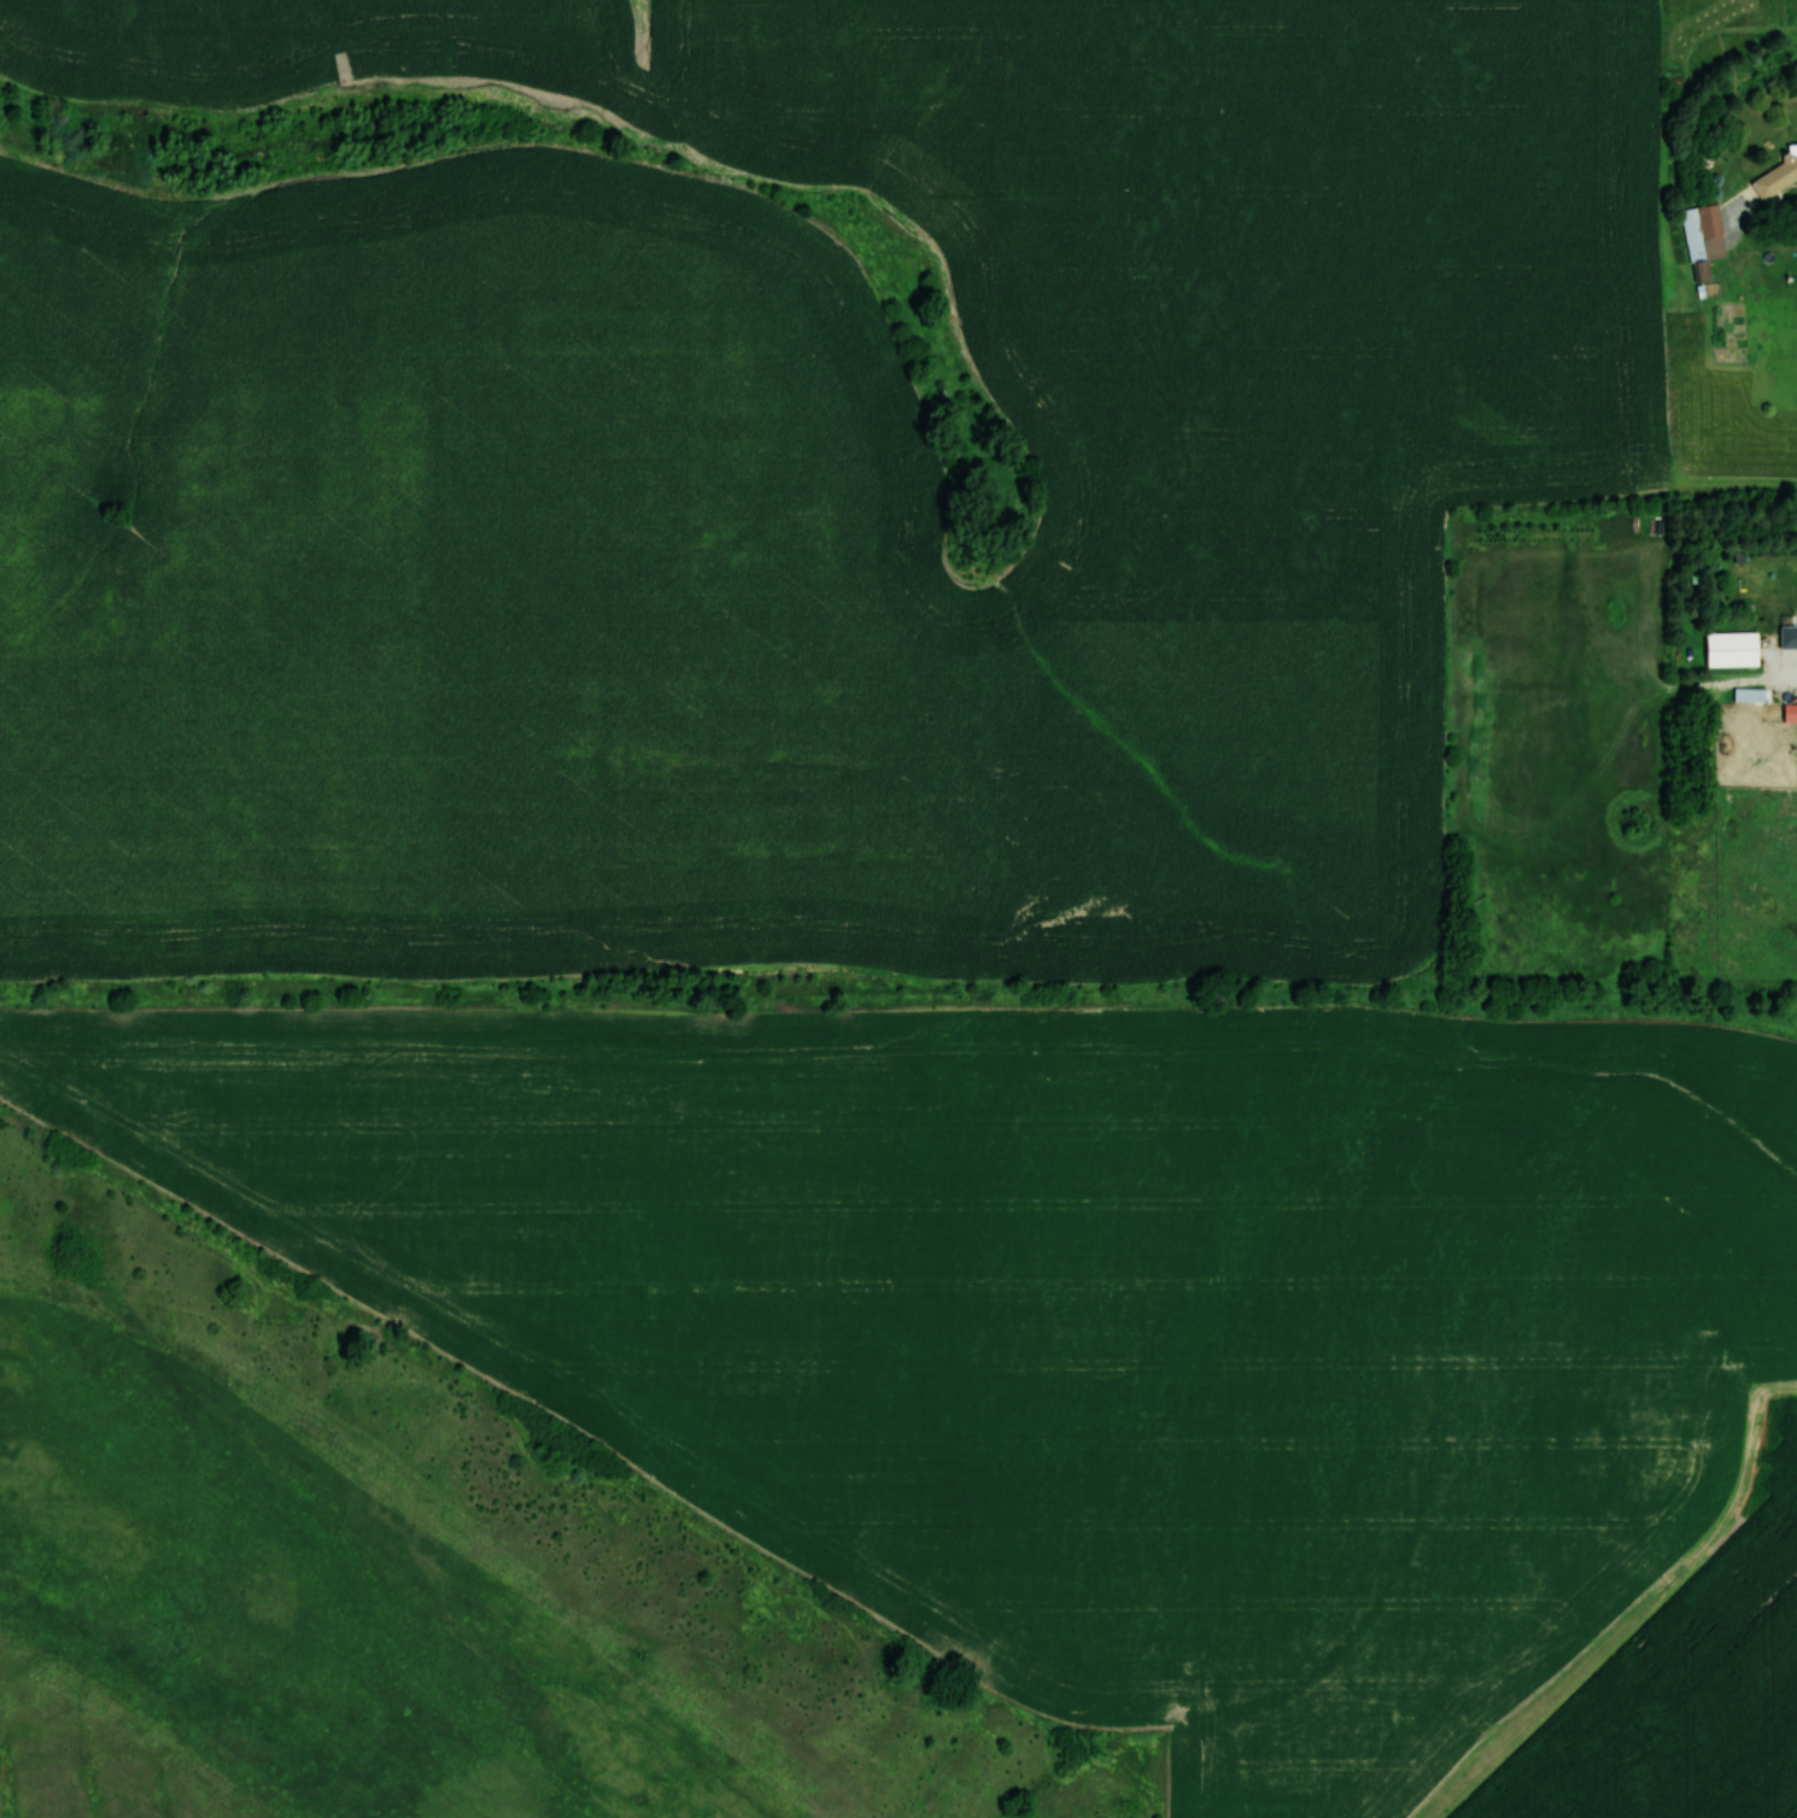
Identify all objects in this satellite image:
road: (1764, 212)
building: (1703, 238)
building: (1729, 649)
building: (1748, 695)
building: (1790, 713)

